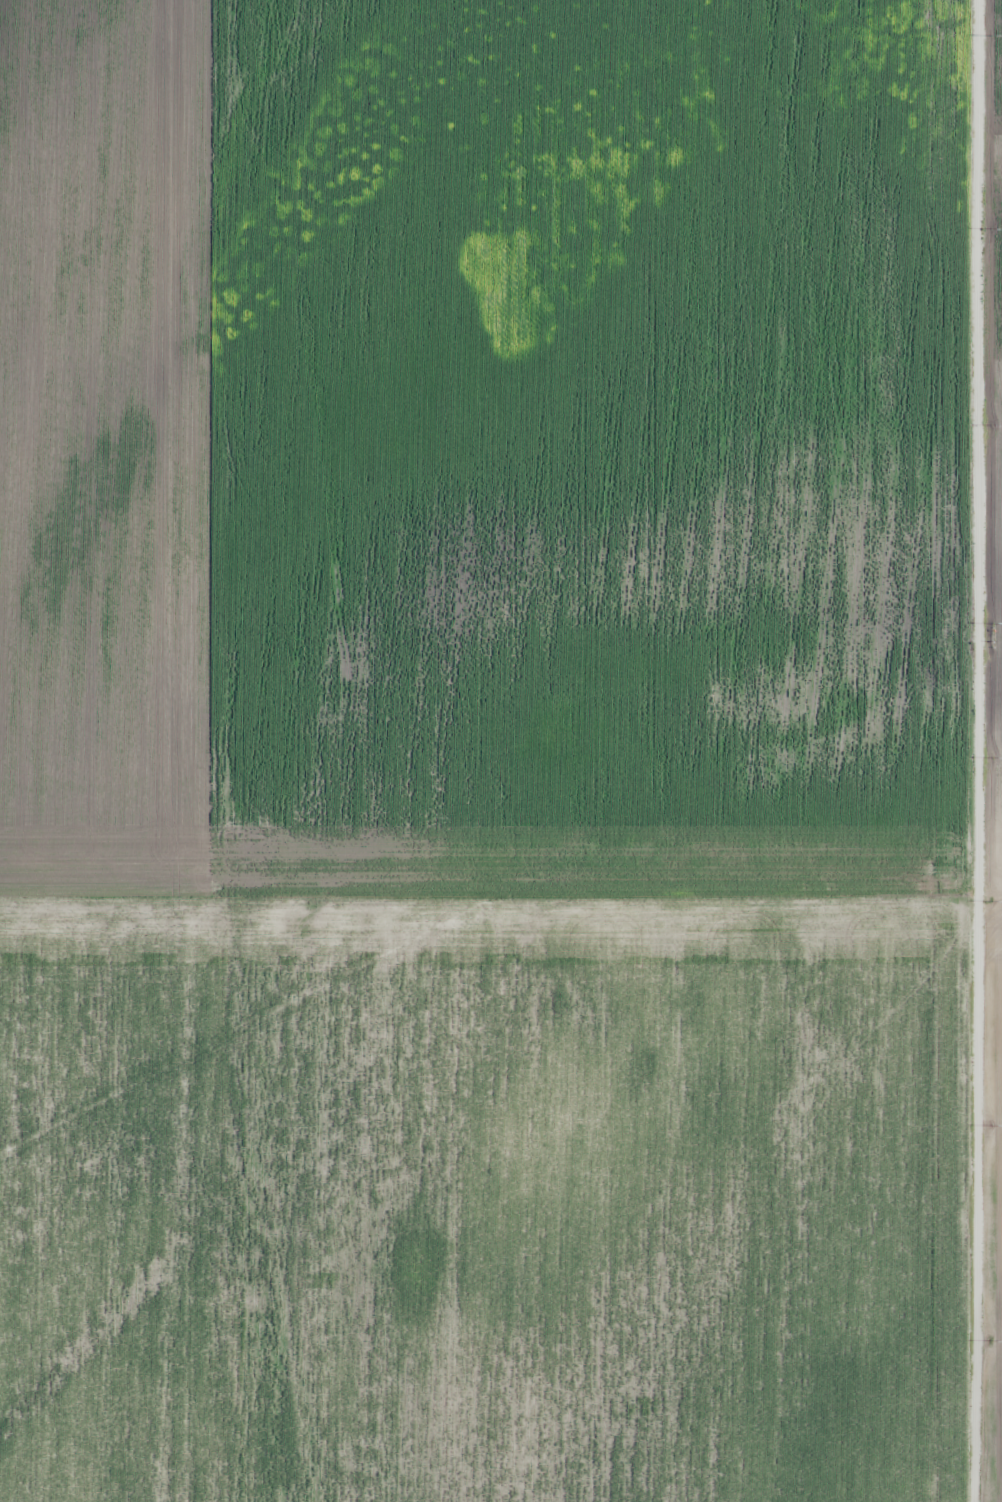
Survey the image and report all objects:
road: (968, 751)

